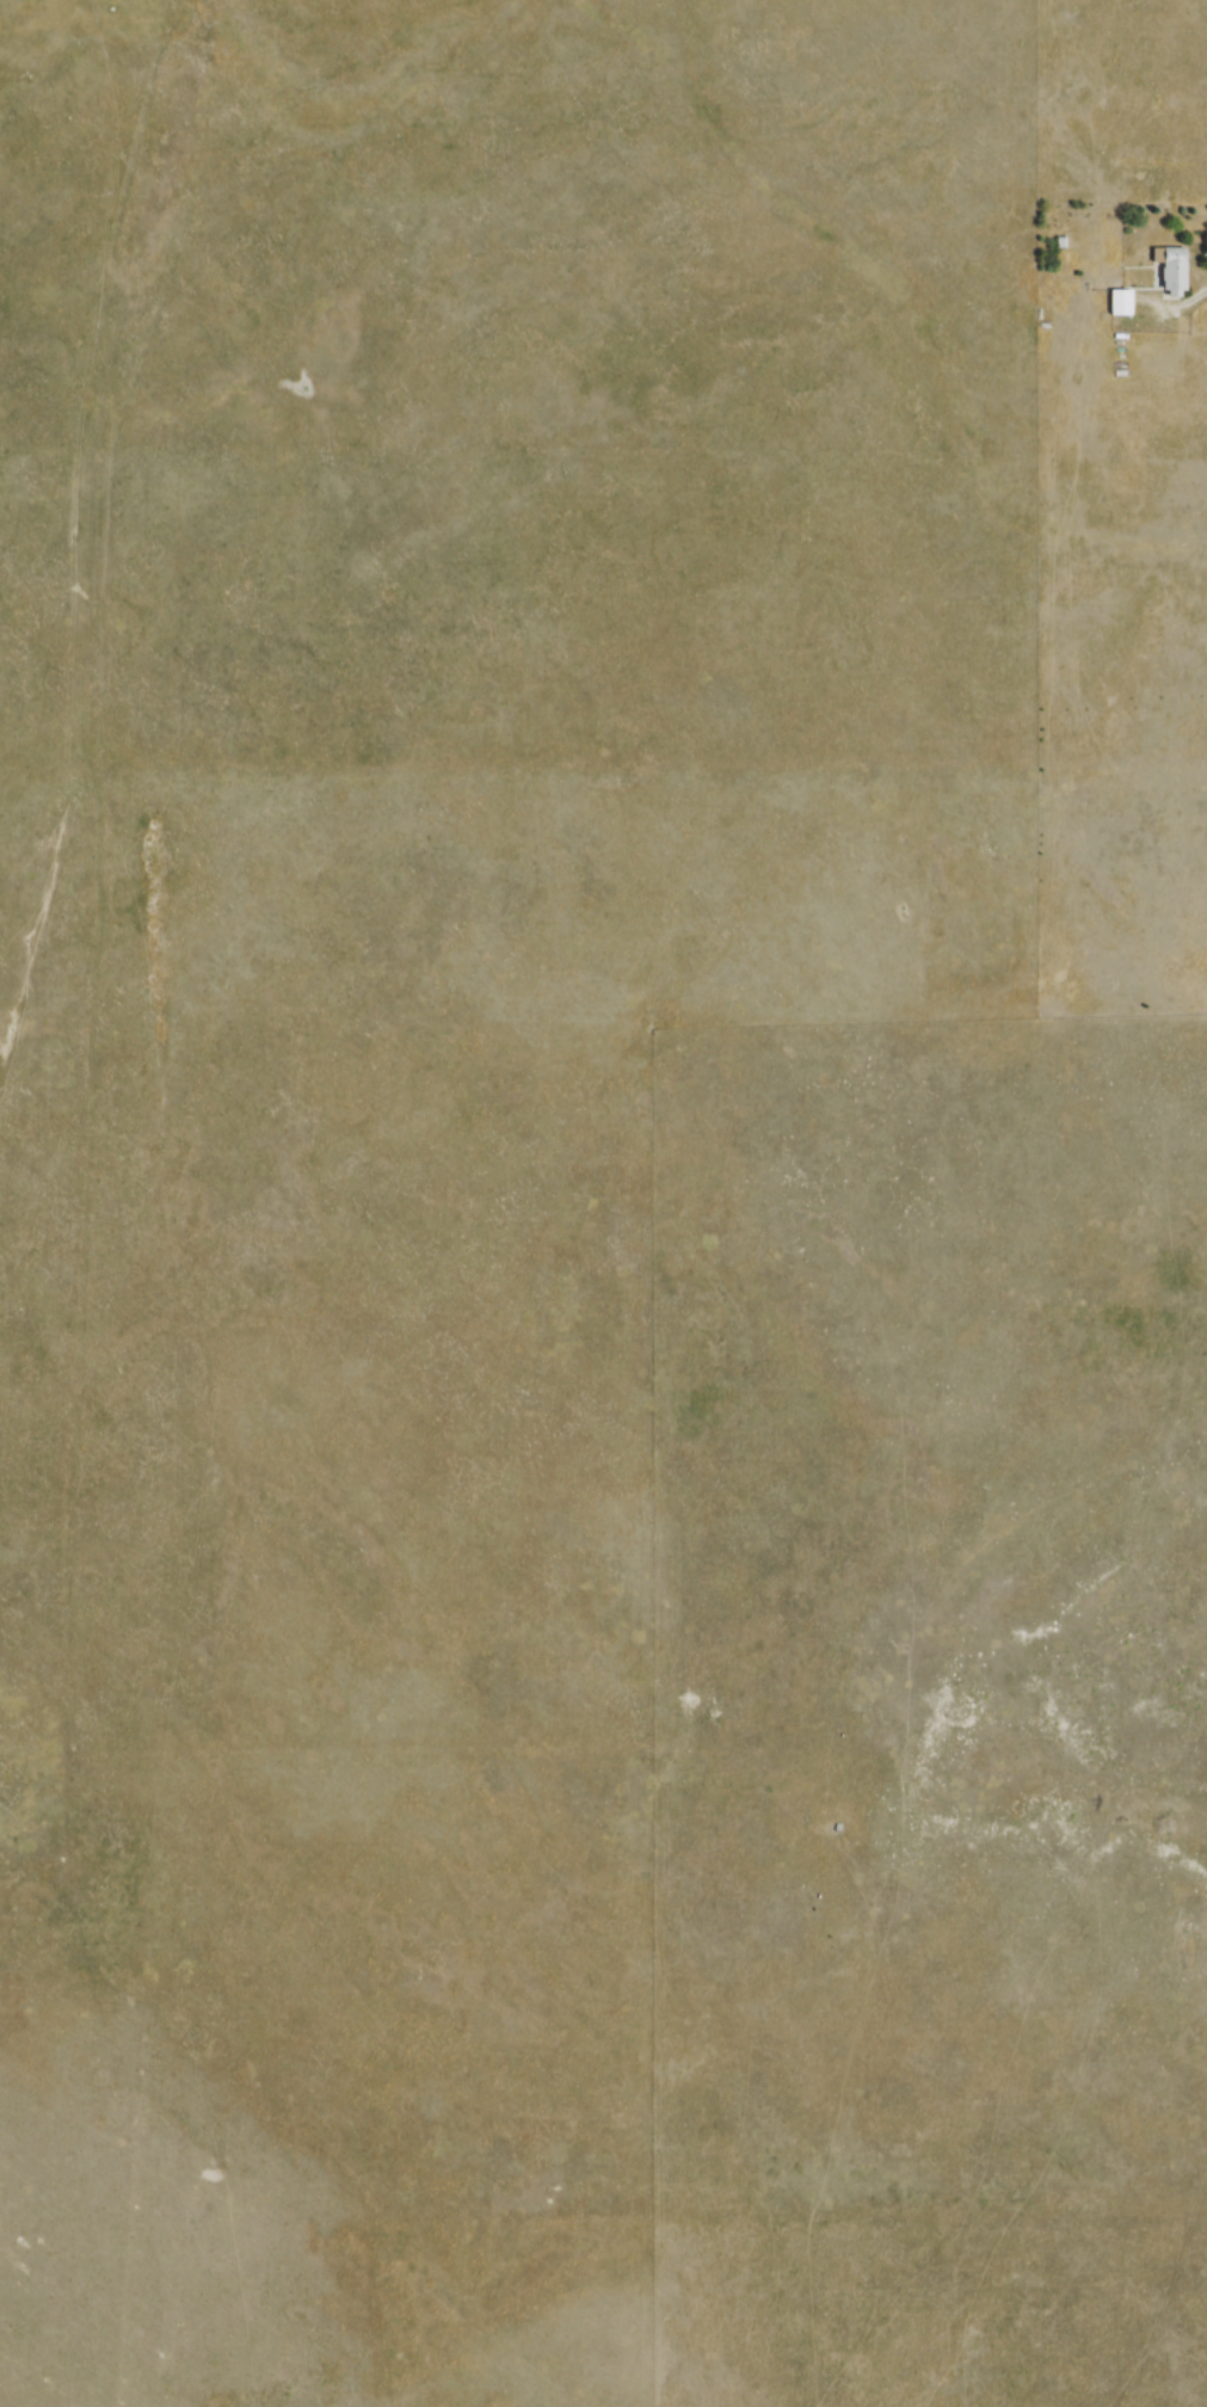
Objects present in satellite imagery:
building: (1168, 272)
building: (1116, 303)

